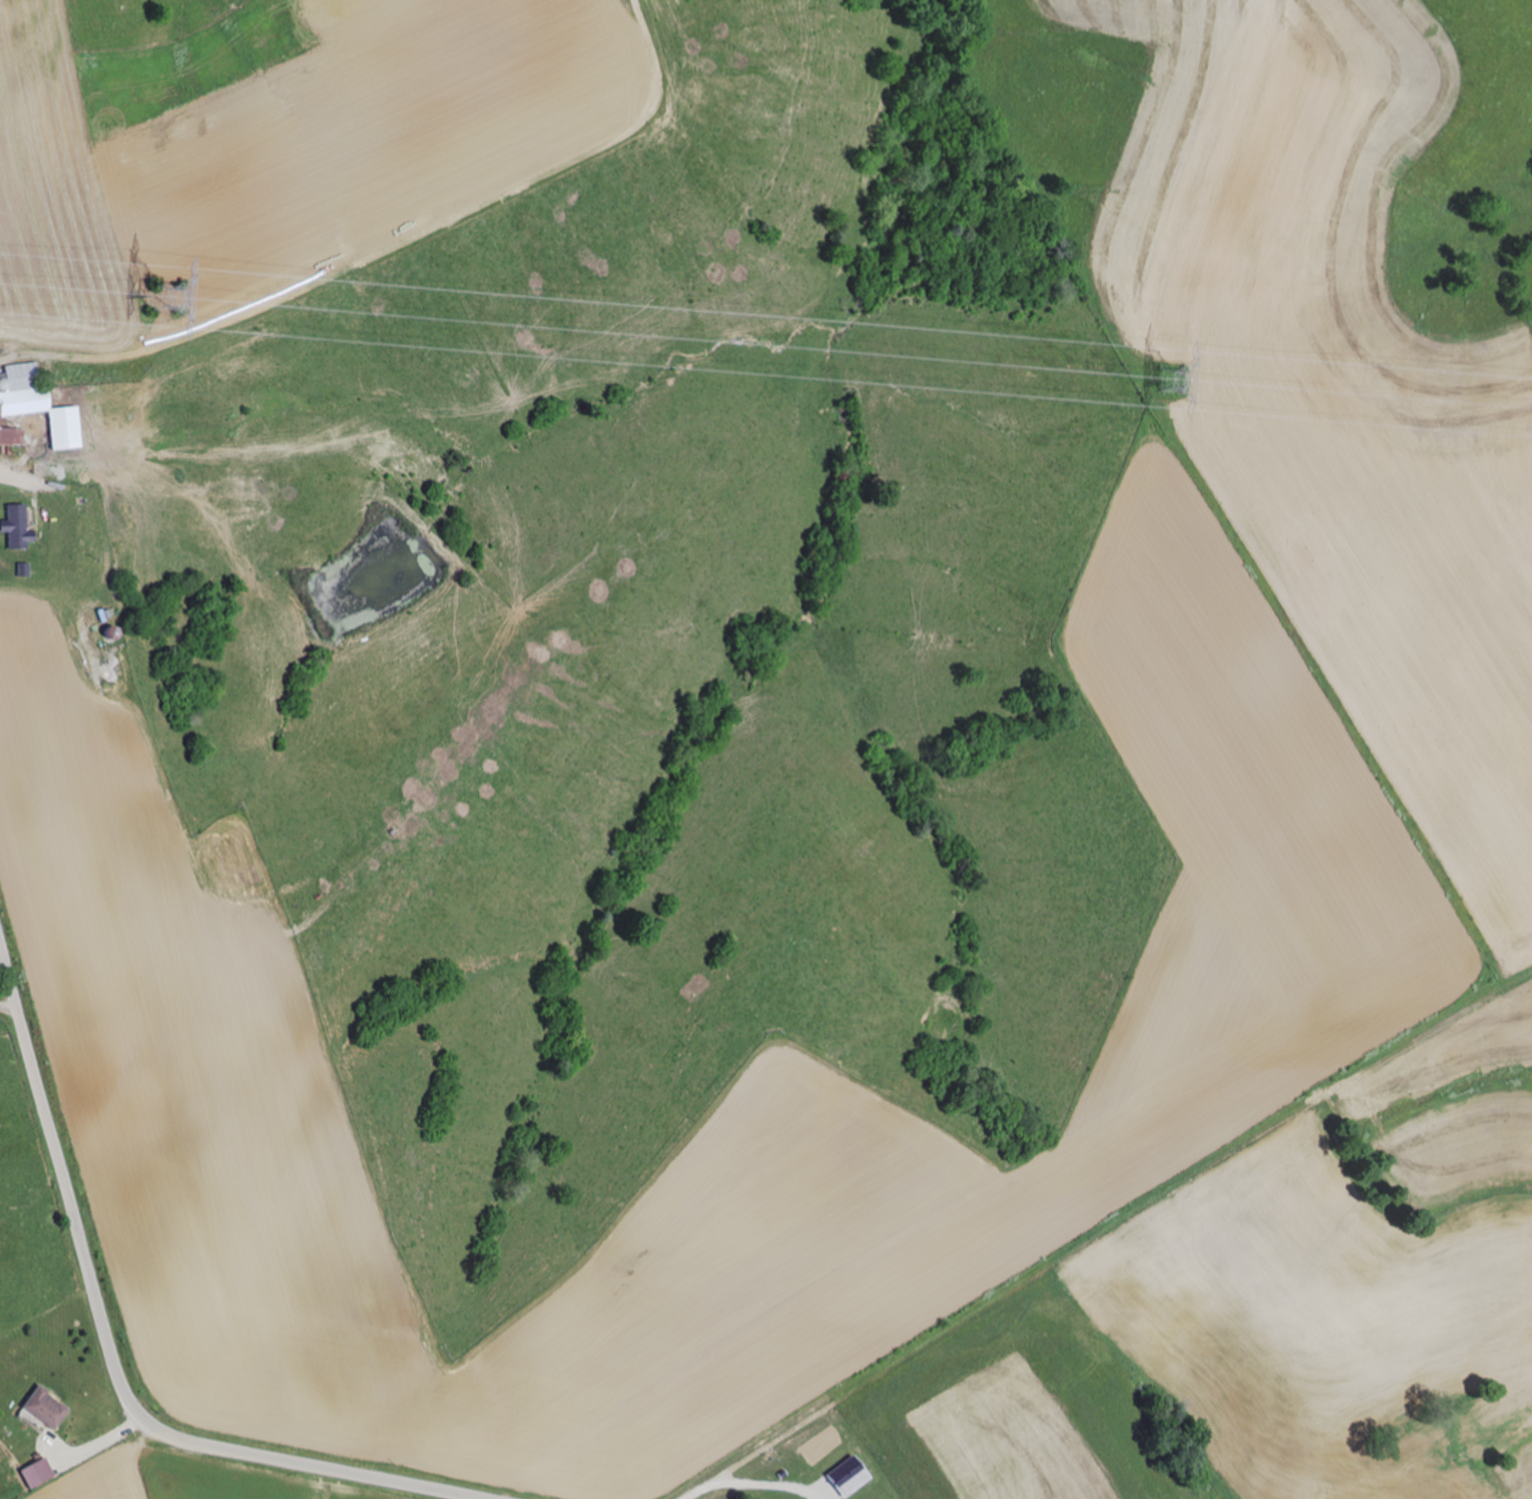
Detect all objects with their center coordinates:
power tower: (161, 299)
power tower: (1171, 377)
building: (38, 405)
building: (12, 437)
building: (67, 487)
building: (231, 488)
building: (18, 527)
building: (110, 633)
road: (42, 1088)
building: (46, 1410)
road: (188, 1462)
building: (40, 1474)
road: (754, 1484)

